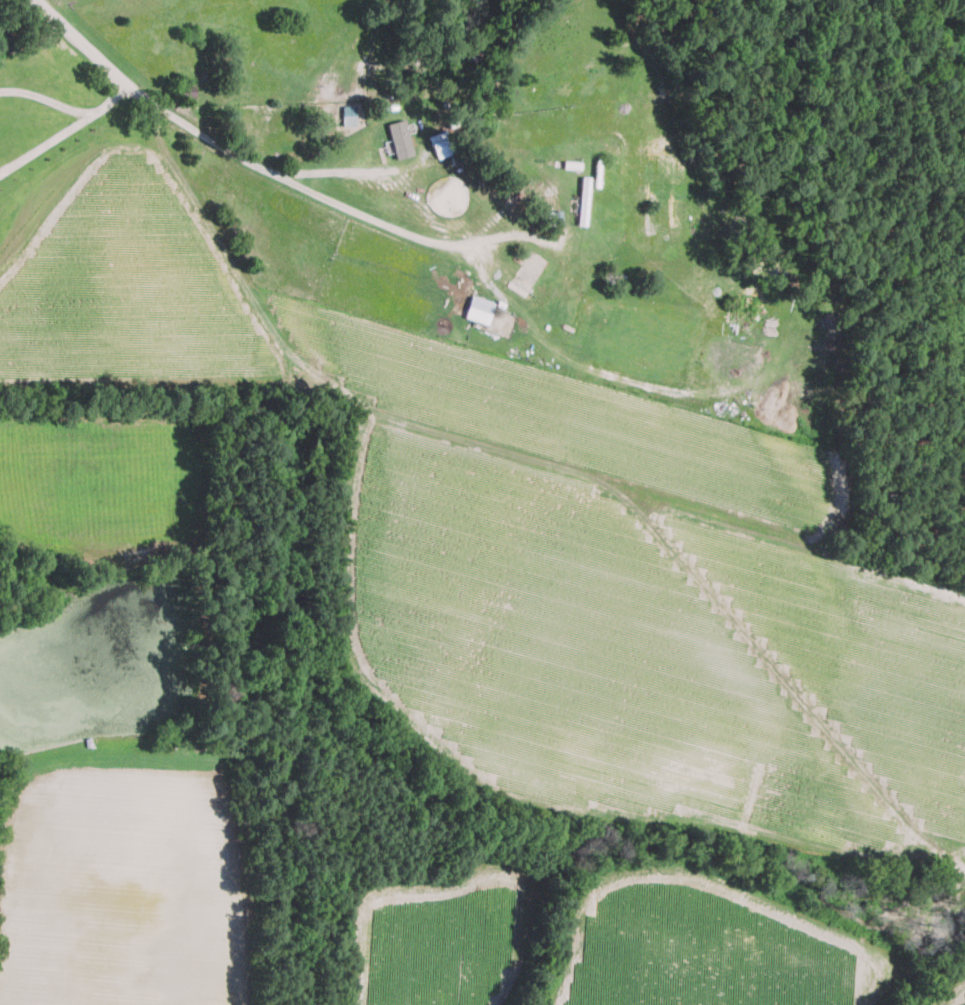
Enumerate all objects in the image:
road: (6, 89)
road: (155, 97)
road: (107, 98)
road: (48, 102)
building: (347, 114)
building: (398, 138)
road: (43, 143)
building: (438, 145)
road: (391, 226)
building: (477, 309)

